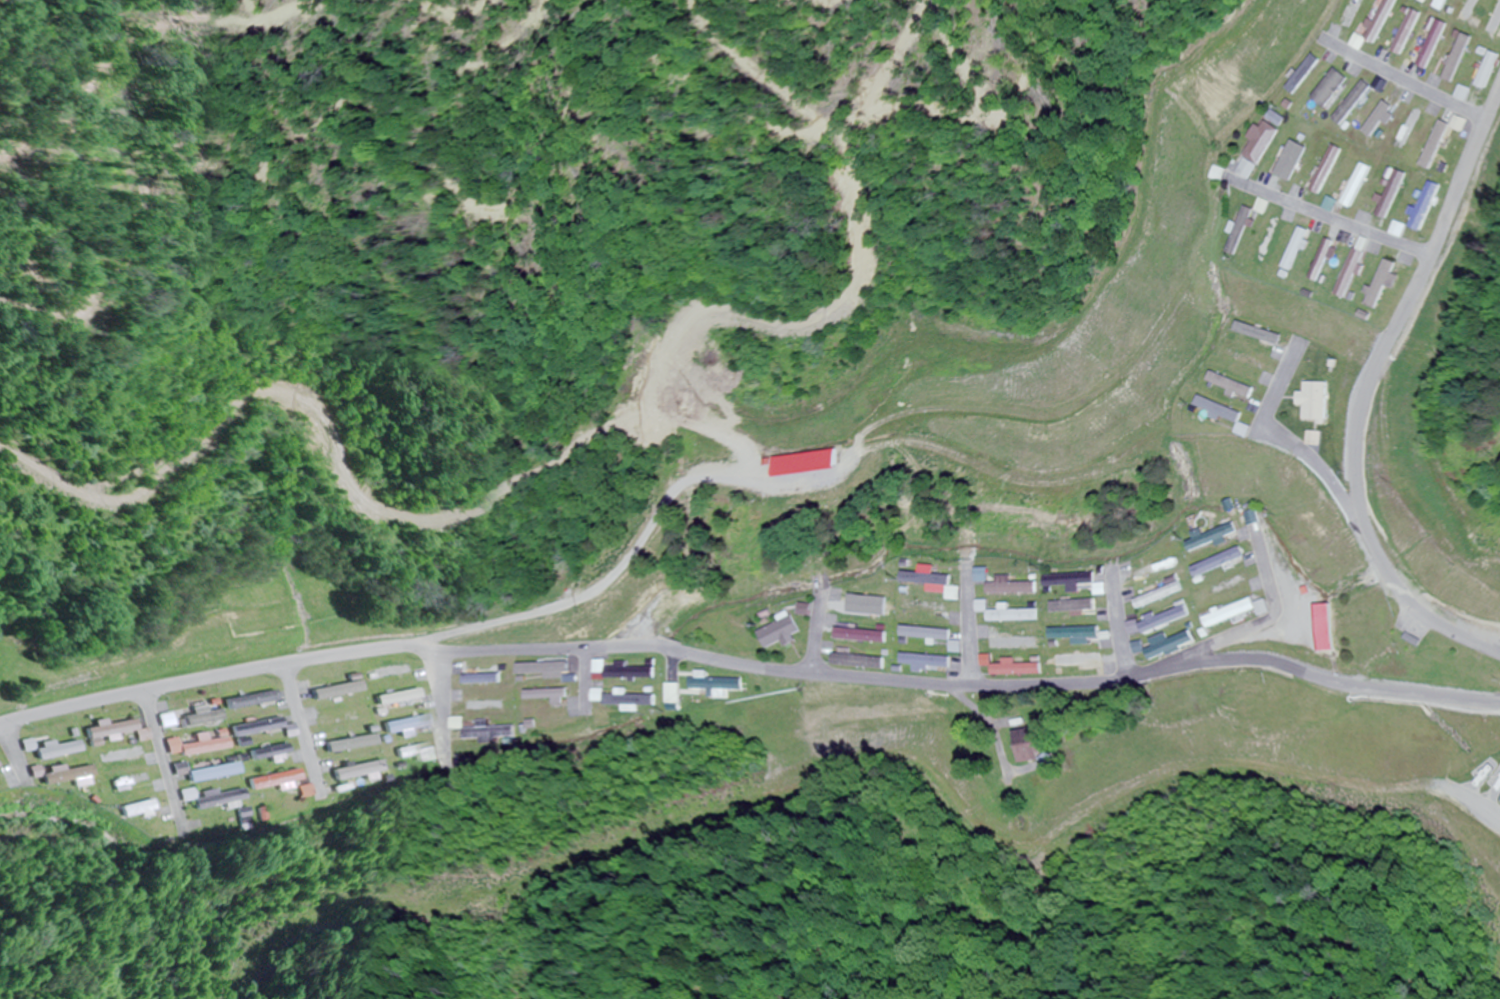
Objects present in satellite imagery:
building: (1449, 1)
building: (1476, 10)
building: (1356, 13)
building: (1380, 27)
building: (1498, 28)
building: (1413, 32)
building: (1441, 44)
building: (1466, 57)
building: (1494, 73)
building: (1328, 91)
building: (1472, 93)
building: (1361, 101)
building: (1388, 117)
building: (1279, 118)
building: (1468, 123)
building: (1444, 145)
building: (1260, 150)
building: (1299, 156)
building: (1334, 170)
building: (1219, 175)
building: (1366, 186)
building: (1401, 195)
building: (1339, 204)
building: (1269, 207)
building: (1433, 207)
building: (1245, 231)
building: (1274, 242)
building: (1304, 250)
building: (1333, 261)
building: (1361, 274)
building: (1391, 284)
building: (1261, 334)
building: (1251, 360)
building: (1235, 385)
road: (1372, 394)
building: (1319, 402)
building: (1224, 410)
building: (1211, 538)
building: (1219, 563)
building: (1156, 569)
building: (933, 581)
building: (1078, 583)
building: (1008, 585)
building: (1231, 586)
building: (1162, 596)
building: (1076, 606)
building: (928, 608)
building: (668, 609)
building: (868, 609)
building: (1232, 614)
building: (1016, 615)
building: (1168, 620)
building: (784, 634)
building: (1078, 634)
building: (928, 635)
building: (861, 636)
building: (1018, 643)
building: (1172, 645)
building: (1081, 661)
building: (858, 662)
building: (926, 662)
building: (547, 668)
road: (748, 670)
building: (1019, 670)
building: (627, 672)
building: (484, 680)
building: (718, 685)
building: (334, 691)
building: (676, 694)
building: (550, 695)
building: (395, 697)
building: (251, 700)
building: (626, 701)
building: (425, 702)
building: (487, 706)
building: (195, 721)
building: (402, 725)
building: (260, 728)
building: (111, 729)
building: (493, 734)
building: (346, 744)
building: (1031, 745)
building: (194, 746)
building: (56, 750)
building: (264, 752)
building: (435, 755)
building: (118, 756)
building: (147, 760)
building: (351, 771)
building: (203, 772)
building: (62, 776)
building: (268, 780)
building: (133, 783)
building: (298, 791)
building: (209, 798)
building: (131, 810)

